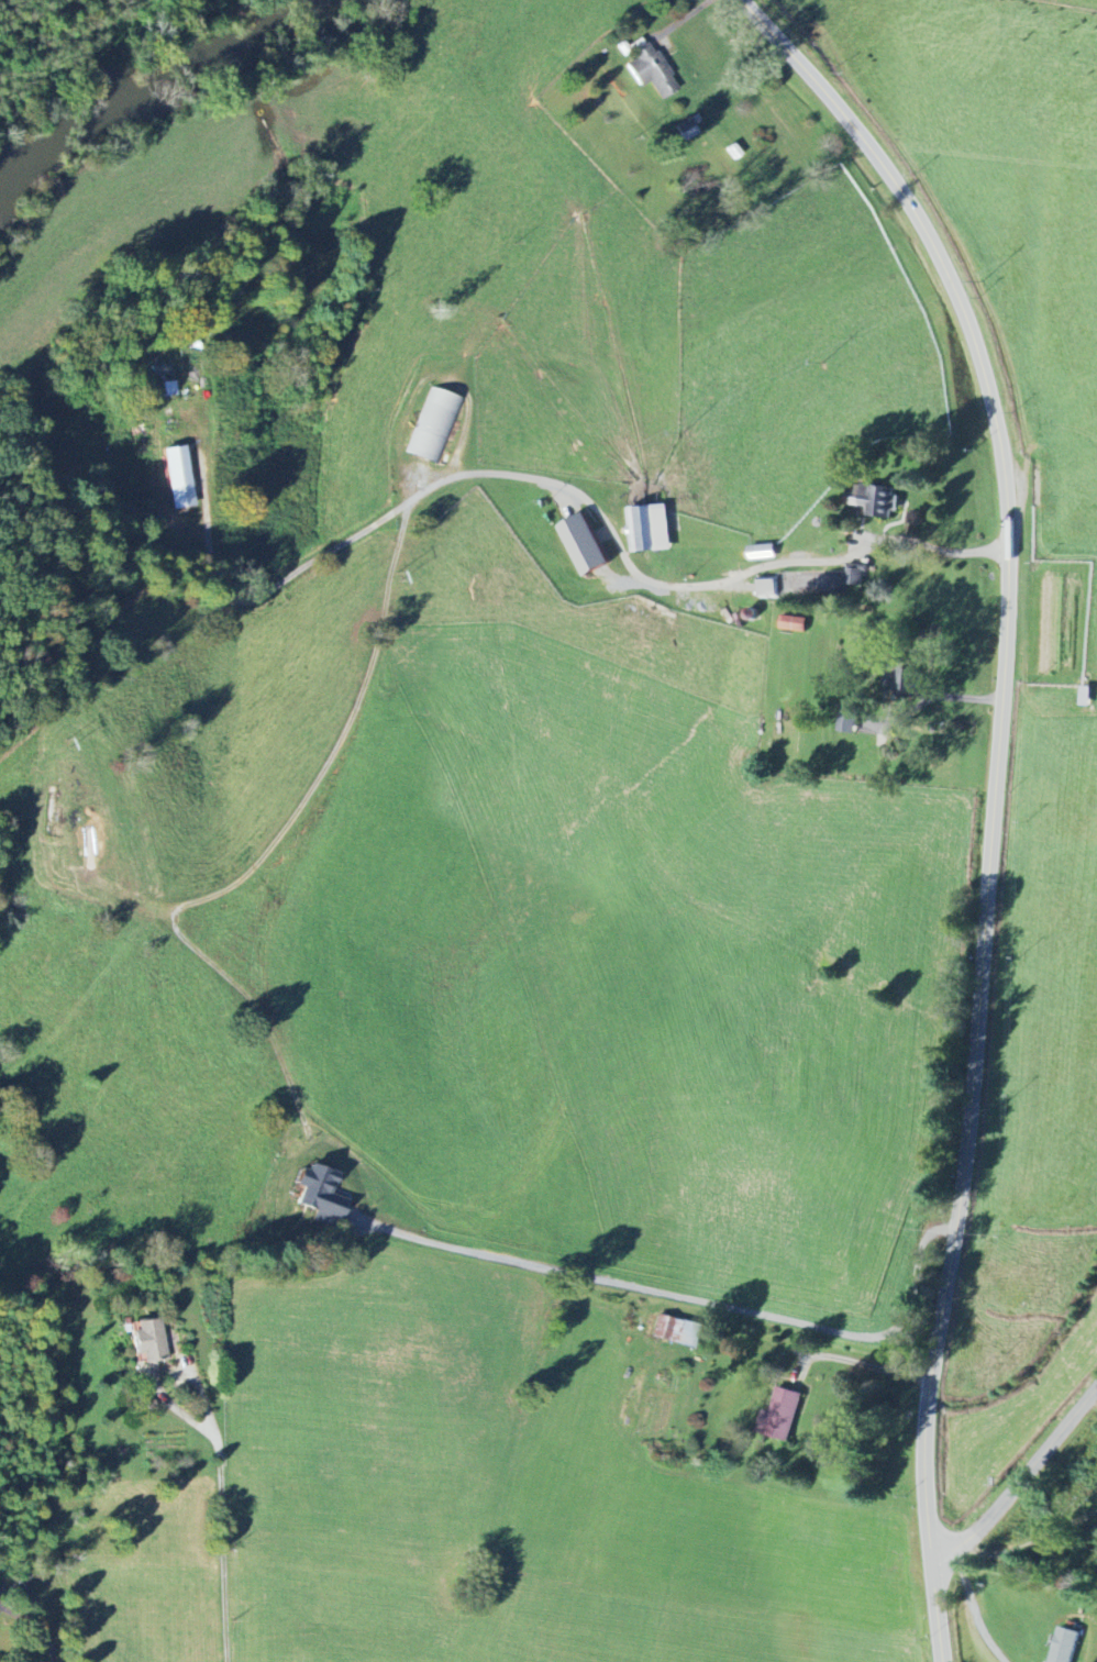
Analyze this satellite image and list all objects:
building: (653, 69)
river: (155, 90)
building: (688, 130)
building: (168, 388)
building: (433, 424)
building: (180, 477)
road: (542, 483)
building: (877, 500)
building: (650, 529)
building: (587, 545)
building: (856, 576)
building: (769, 588)
building: (796, 624)
building: (850, 719)
building: (864, 720)
road: (997, 794)
building: (330, 1190)
road: (689, 1298)
building: (676, 1331)
building: (152, 1340)
road: (851, 1362)
building: (783, 1415)
road: (1019, 1480)
road: (220, 1516)
road: (1029, 1541)
building: (1067, 1646)

